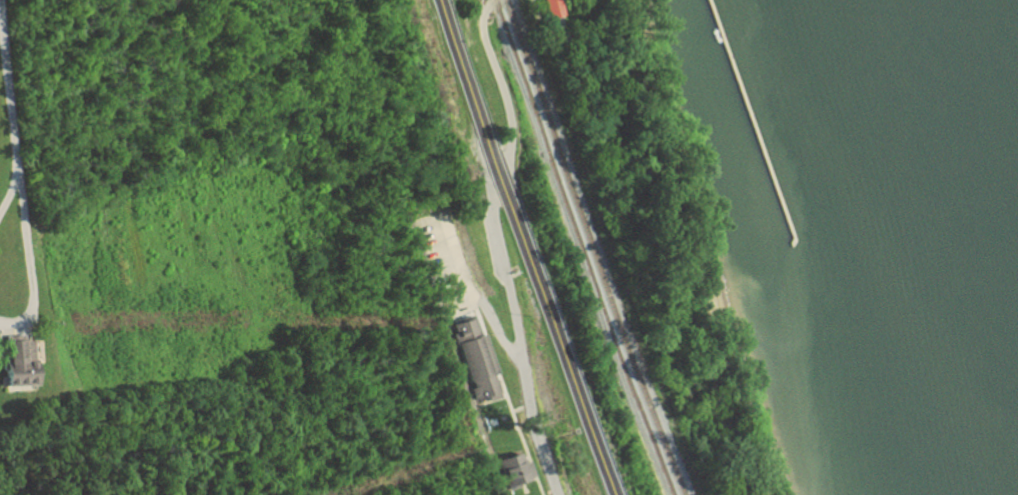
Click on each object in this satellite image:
building: (546, 9)
road: (5, 186)
road: (11, 187)
road: (496, 245)
road: (522, 247)
railway: (589, 247)
railway: (577, 248)
road: (19, 320)
road: (494, 331)
building: (474, 358)
building: (510, 473)

